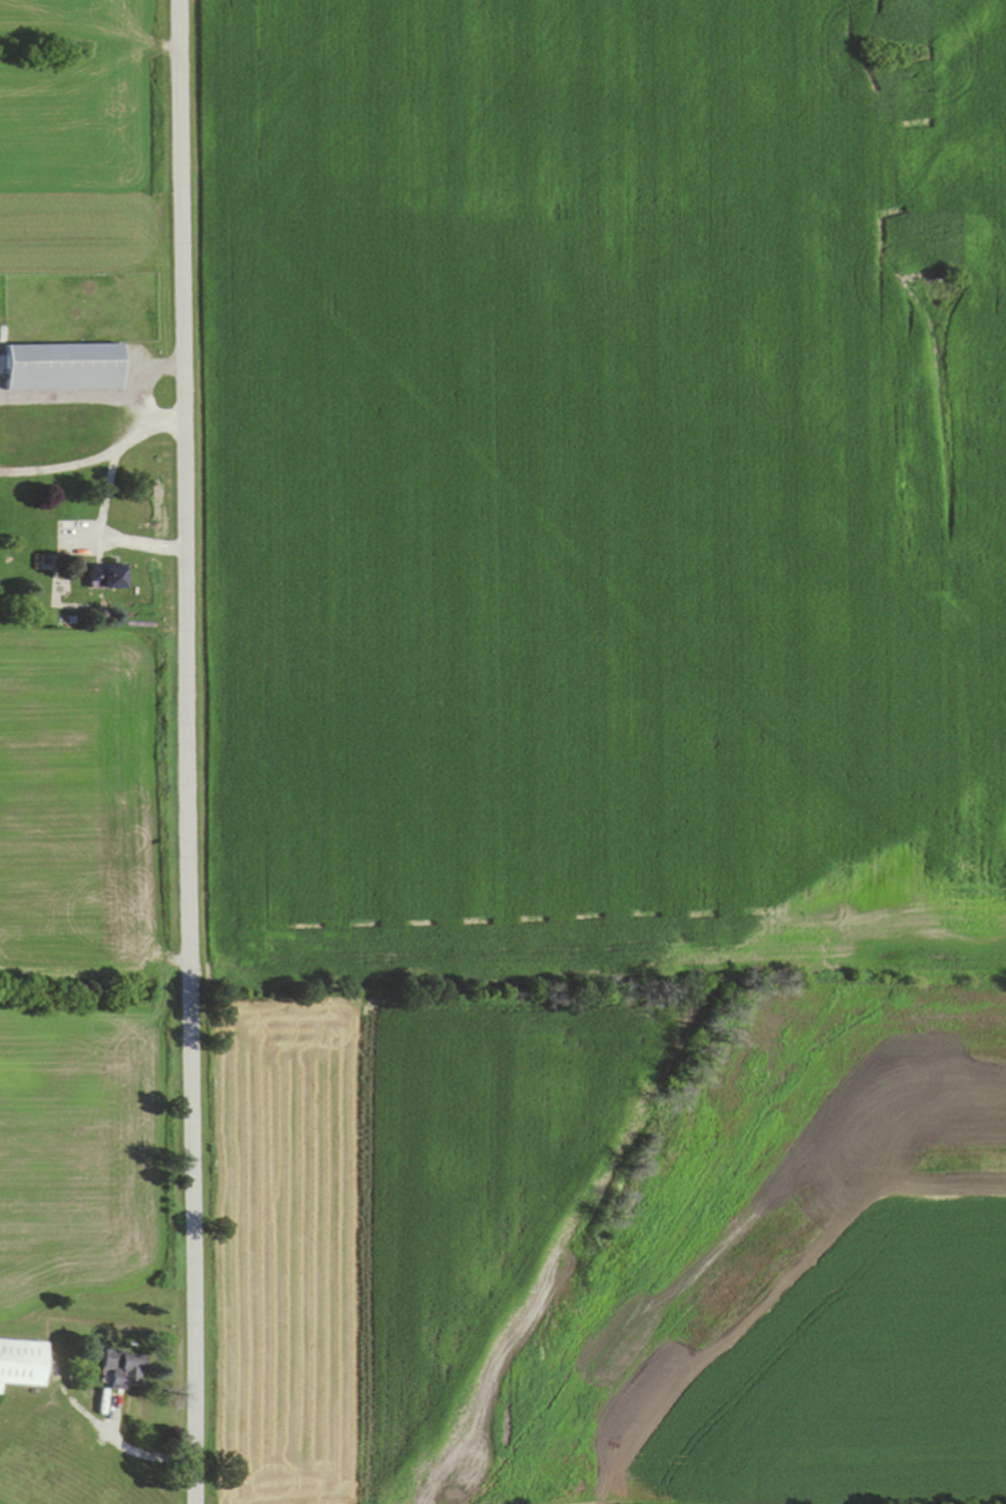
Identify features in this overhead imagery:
building: (63, 369)
road: (99, 398)
road: (142, 411)
road: (96, 459)
building: (108, 577)
road: (187, 751)
building: (20, 1364)
building: (121, 1370)

